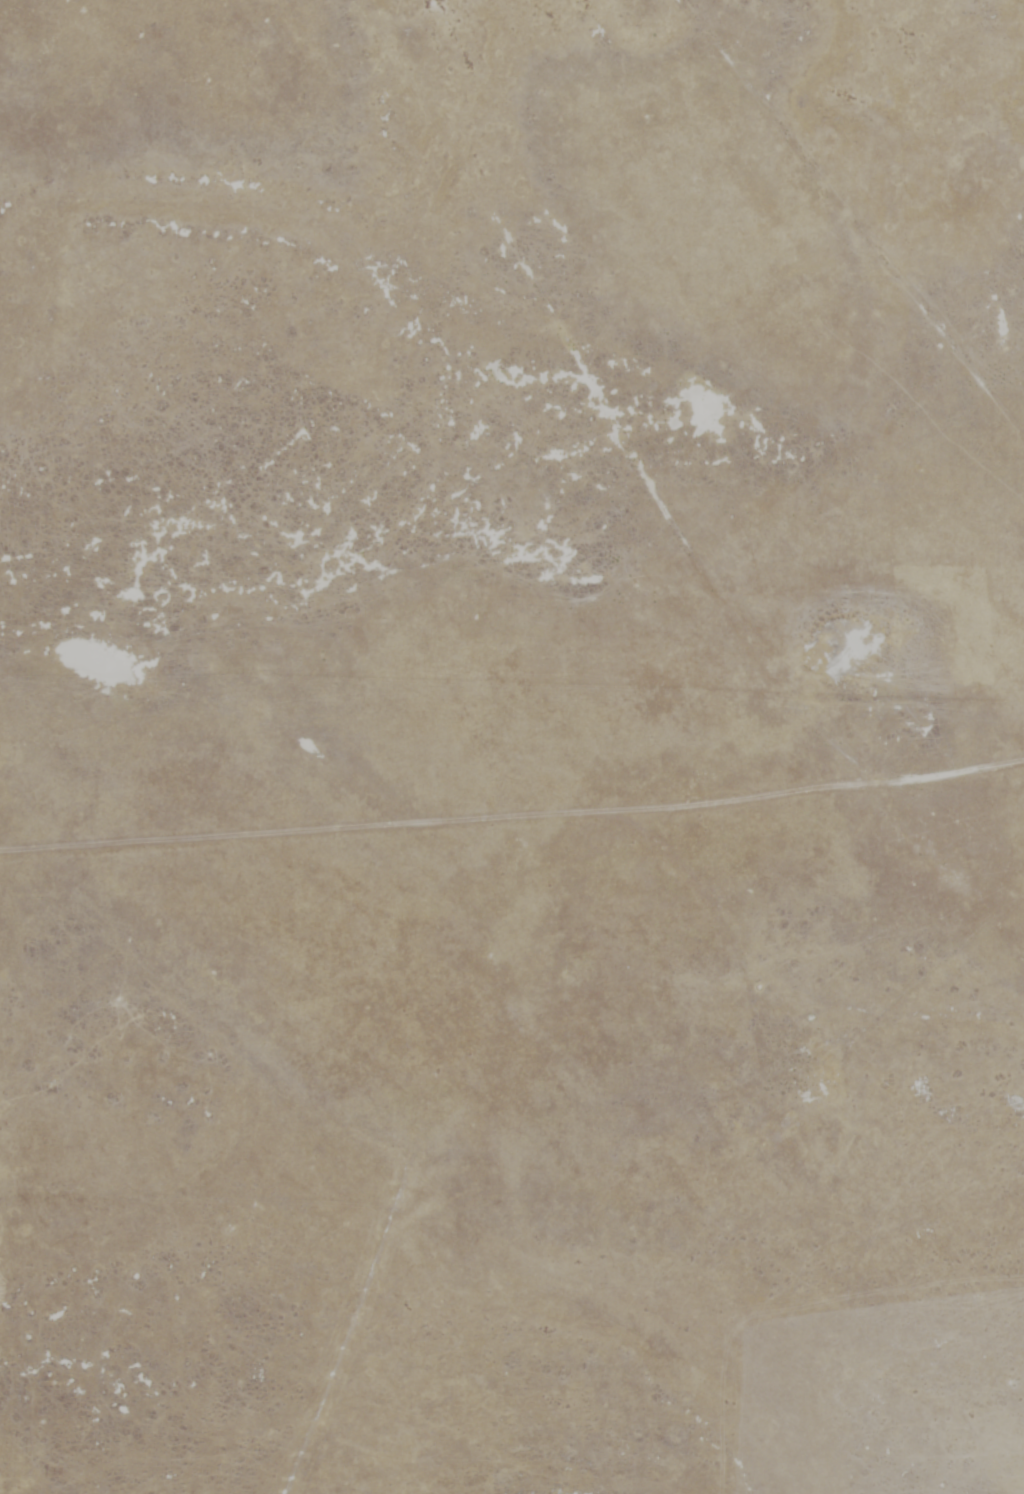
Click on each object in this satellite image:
road: (594, 548)

